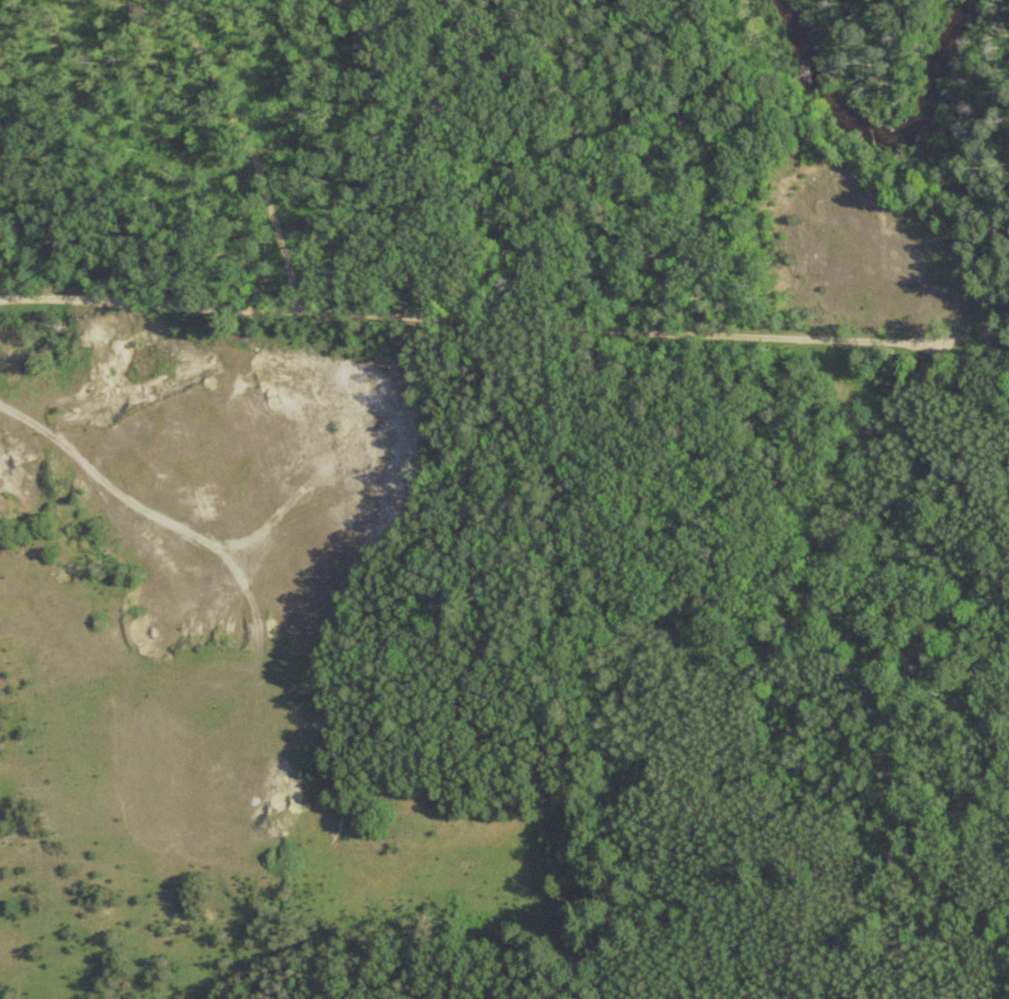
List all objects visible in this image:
river: (879, 135)
road: (200, 166)
road: (504, 290)

